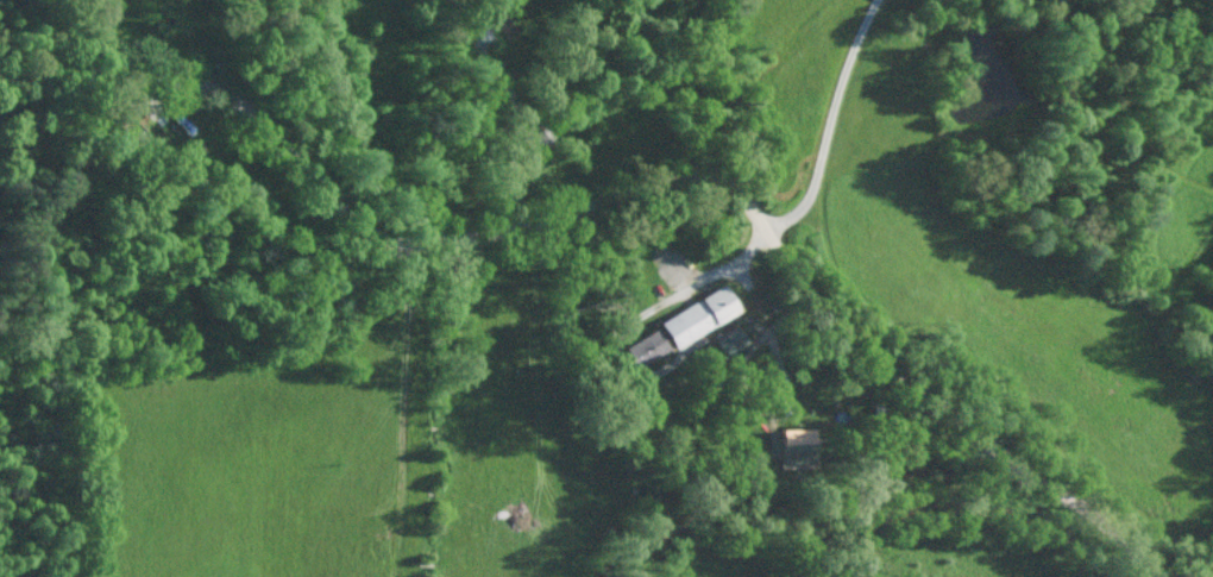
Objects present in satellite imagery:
road: (87, 37)
building: (478, 44)
road: (834, 121)
building: (535, 138)
road: (516, 146)
road: (627, 193)
building: (674, 327)
building: (791, 443)

